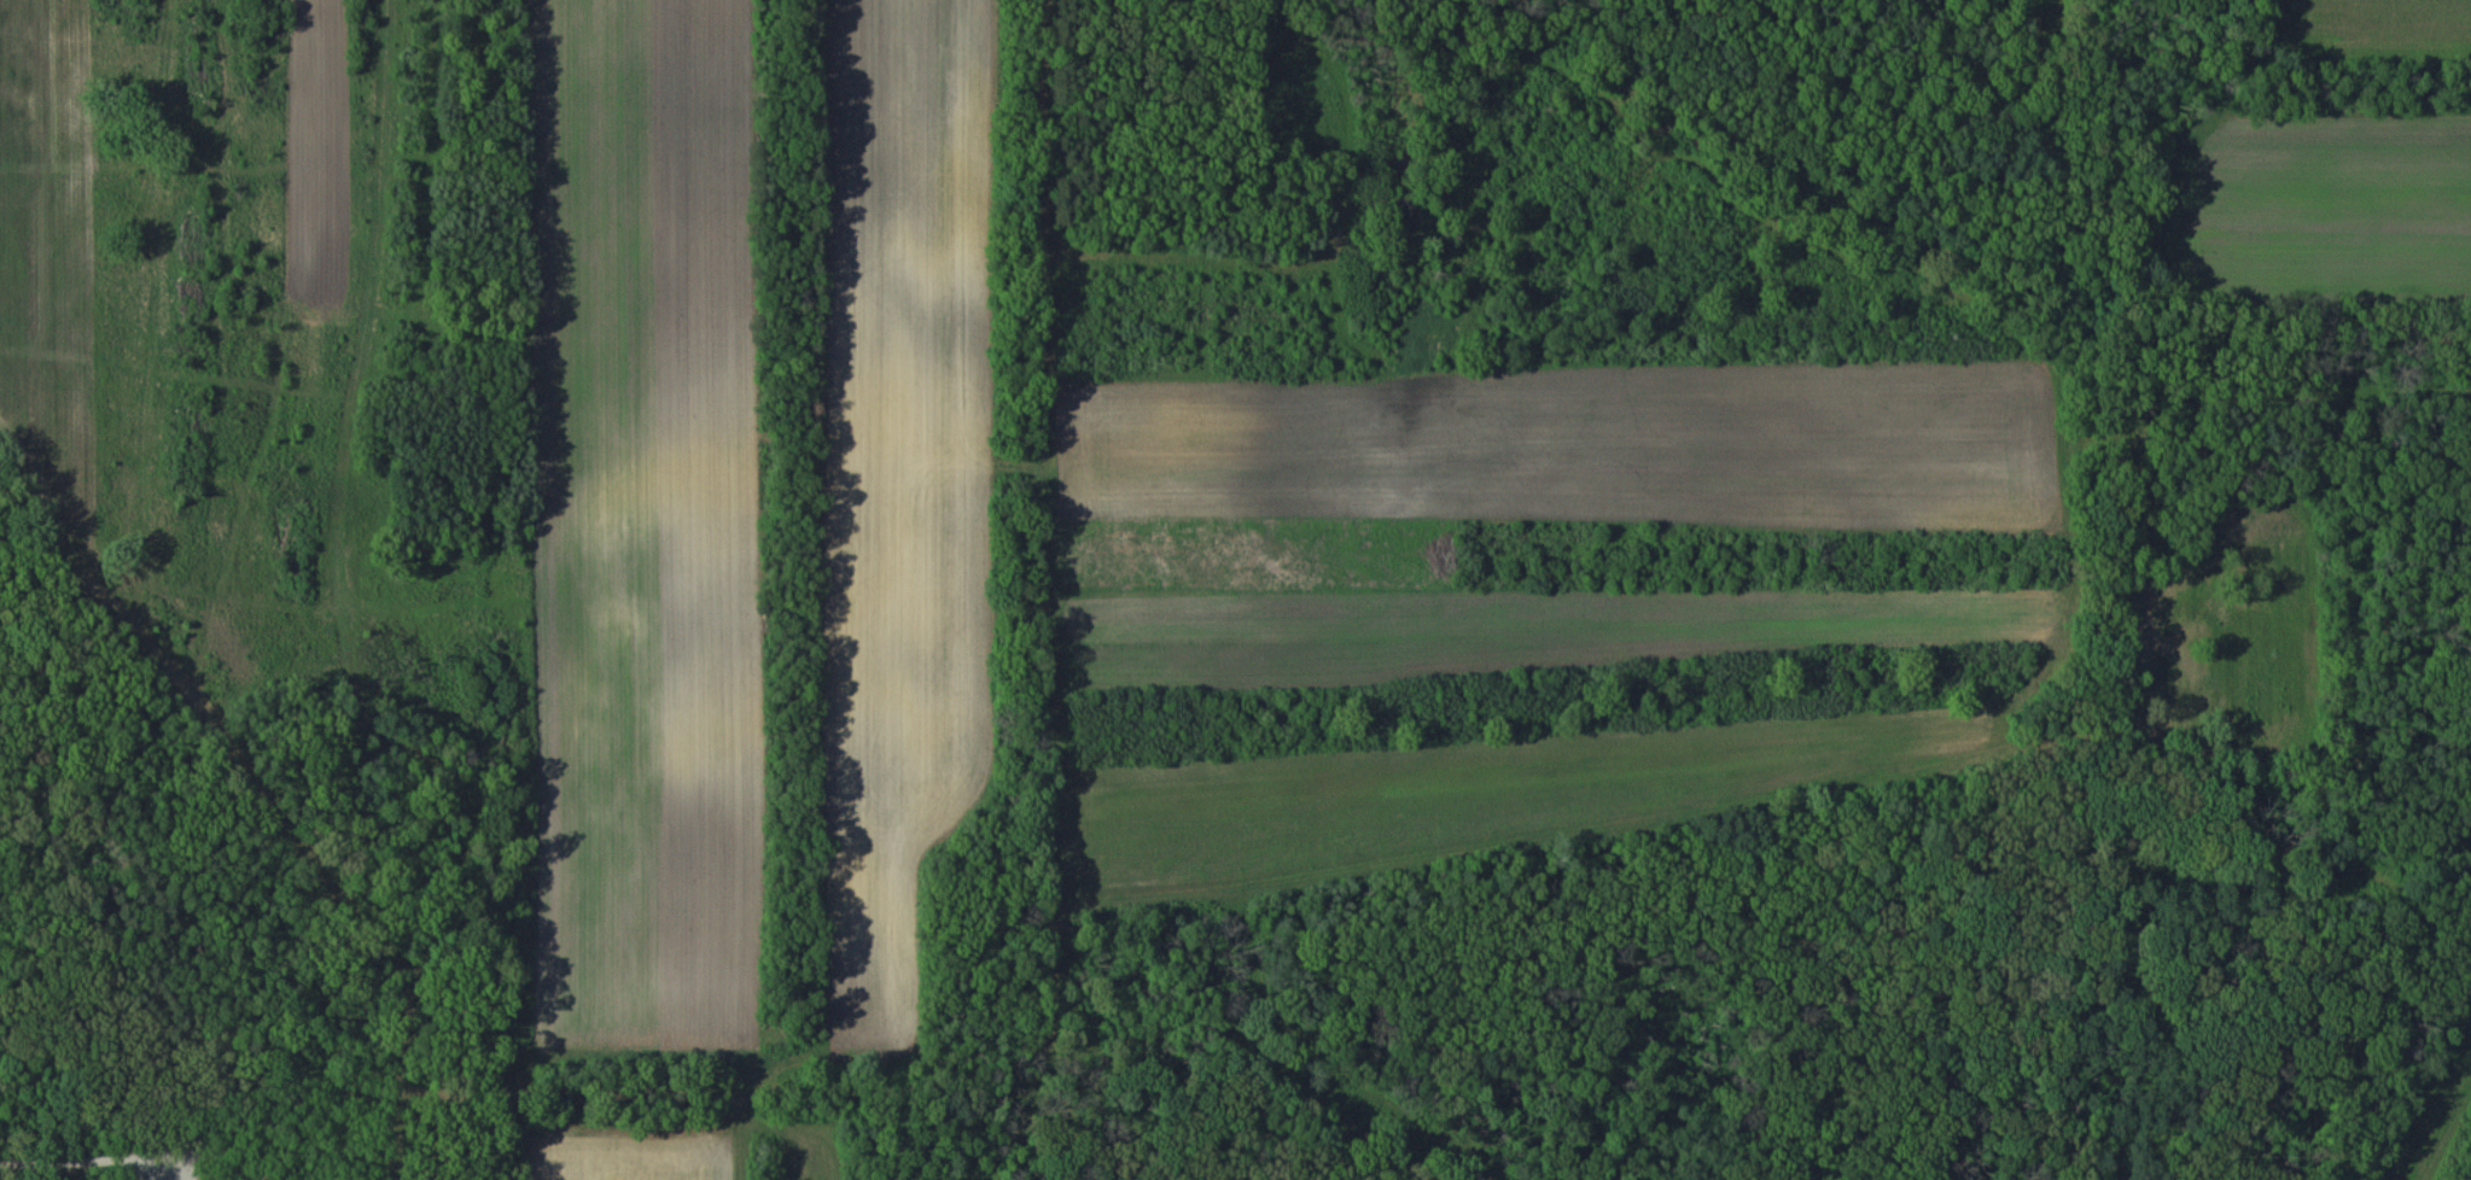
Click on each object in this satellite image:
road: (582, 1098)

